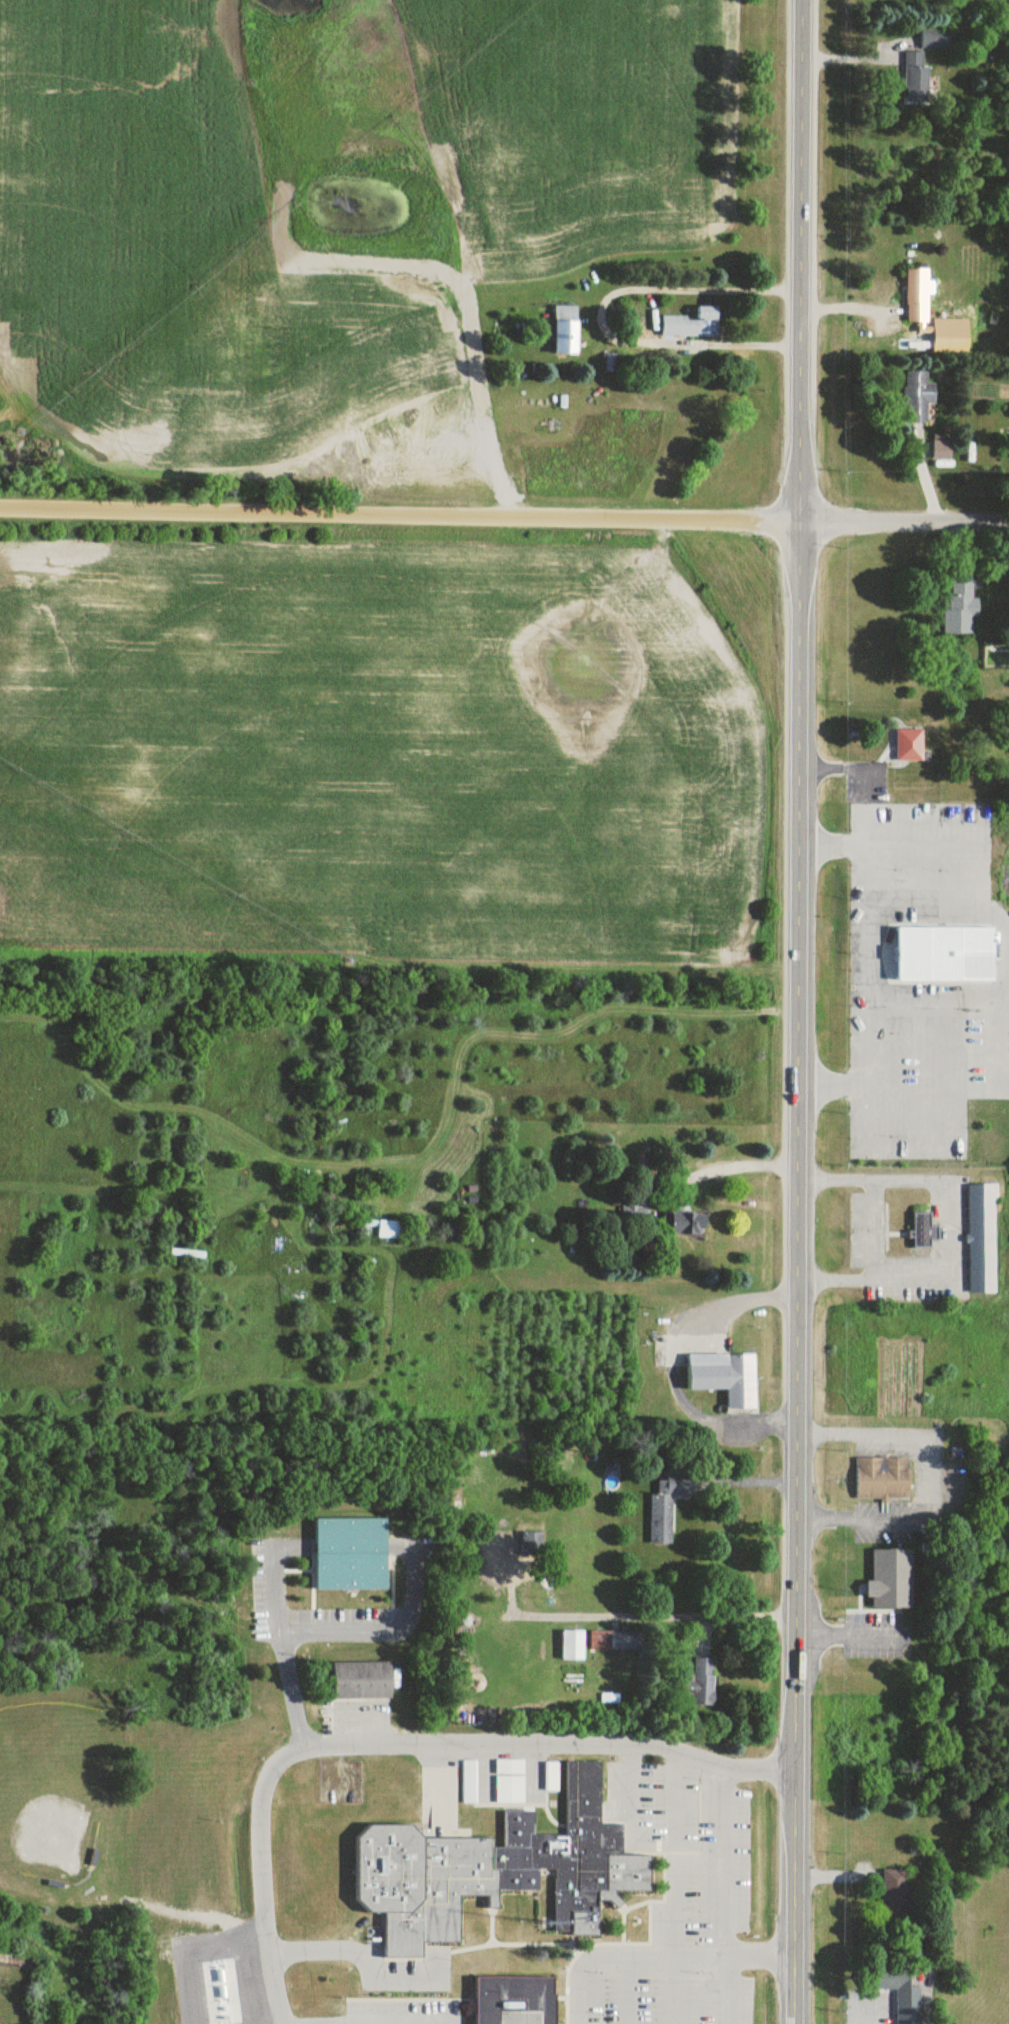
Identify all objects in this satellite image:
building: (935, 39)
building: (916, 79)
building: (913, 249)
road: (802, 262)
building: (882, 278)
building: (918, 297)
road: (597, 314)
building: (693, 325)
building: (566, 330)
building: (918, 397)
building: (942, 450)
road: (401, 516)
road: (905, 524)
building: (961, 606)
building: (910, 746)
building: (946, 955)
road: (855, 964)
road: (798, 983)
building: (756, 1103)
road: (739, 1164)
road: (936, 1225)
building: (686, 1226)
building: (388, 1230)
building: (924, 1232)
building: (982, 1240)
road: (666, 1360)
building: (725, 1377)
building: (883, 1479)
building: (666, 1507)
building: (350, 1554)
building: (498, 1558)
building: (891, 1579)
road: (655, 1615)
building: (615, 1642)
building: (572, 1646)
building: (361, 1681)
building: (703, 1682)
road: (794, 1733)
road: (403, 1748)
building: (551, 1777)
building: (468, 1782)
building: (509, 1782)
park: (52, 1786)
building: (497, 1870)
road: (681, 1879)
road: (730, 1892)
building: (895, 1895)
building: (902, 1998)
building: (514, 2001)

